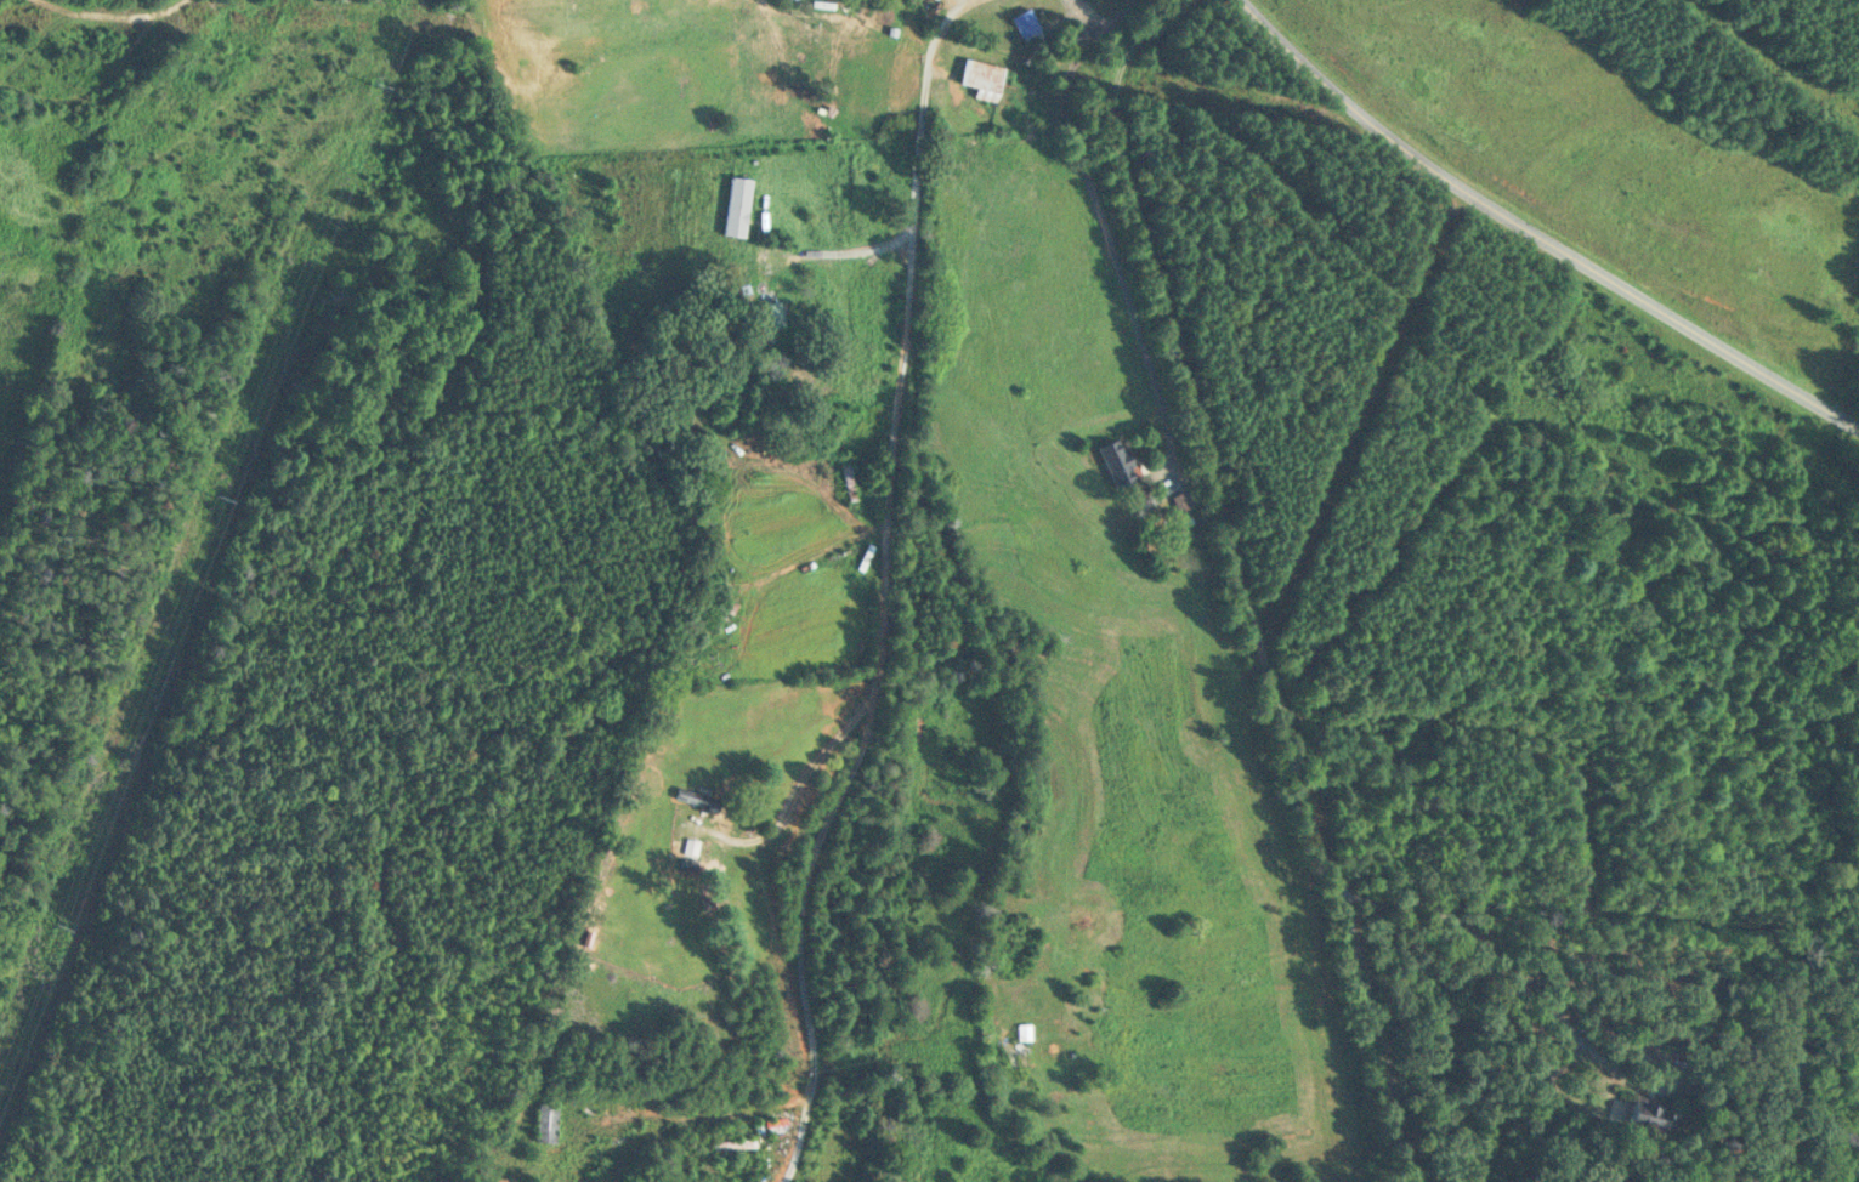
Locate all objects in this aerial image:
building: (1026, 25)
building: (981, 79)
road: (110, 90)
building: (736, 206)
road: (1106, 229)
road: (1536, 229)
road: (850, 251)
building: (769, 314)
building: (1154, 504)
road: (883, 593)
road: (1243, 595)
road: (795, 783)
building: (696, 797)
building: (1010, 1051)
road: (1673, 1072)
building: (1648, 1113)
building: (545, 1124)
building: (732, 1144)

